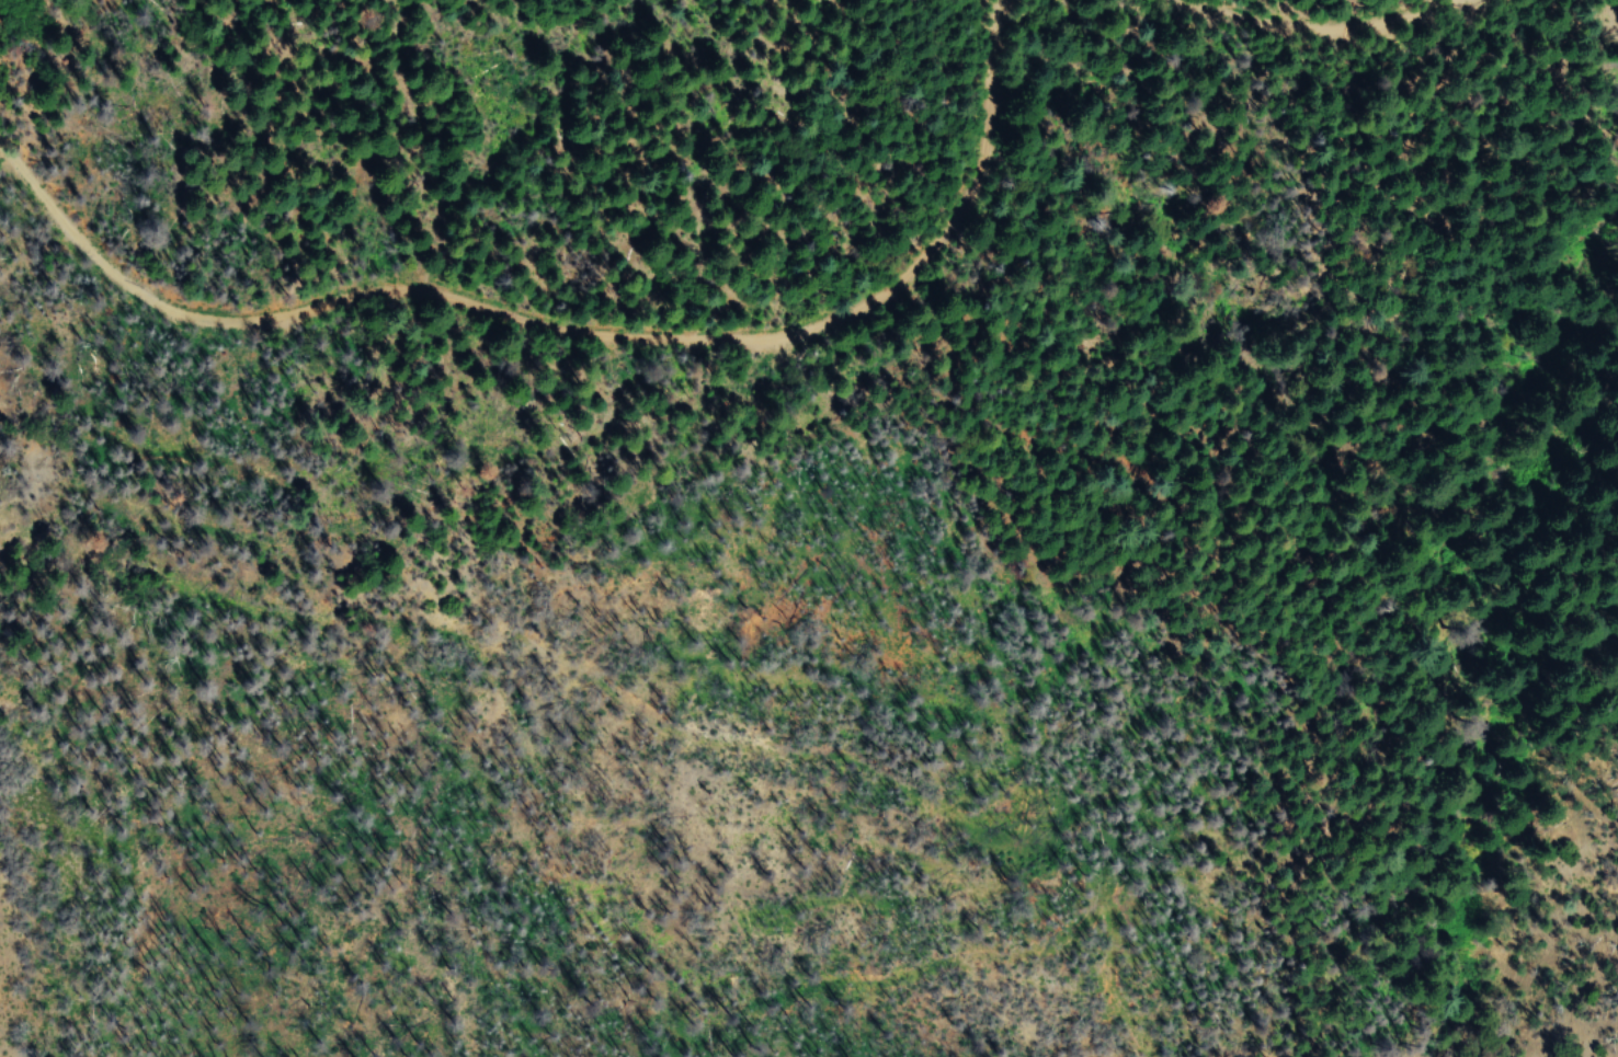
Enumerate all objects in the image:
road: (1313, 39)
road: (658, 357)

